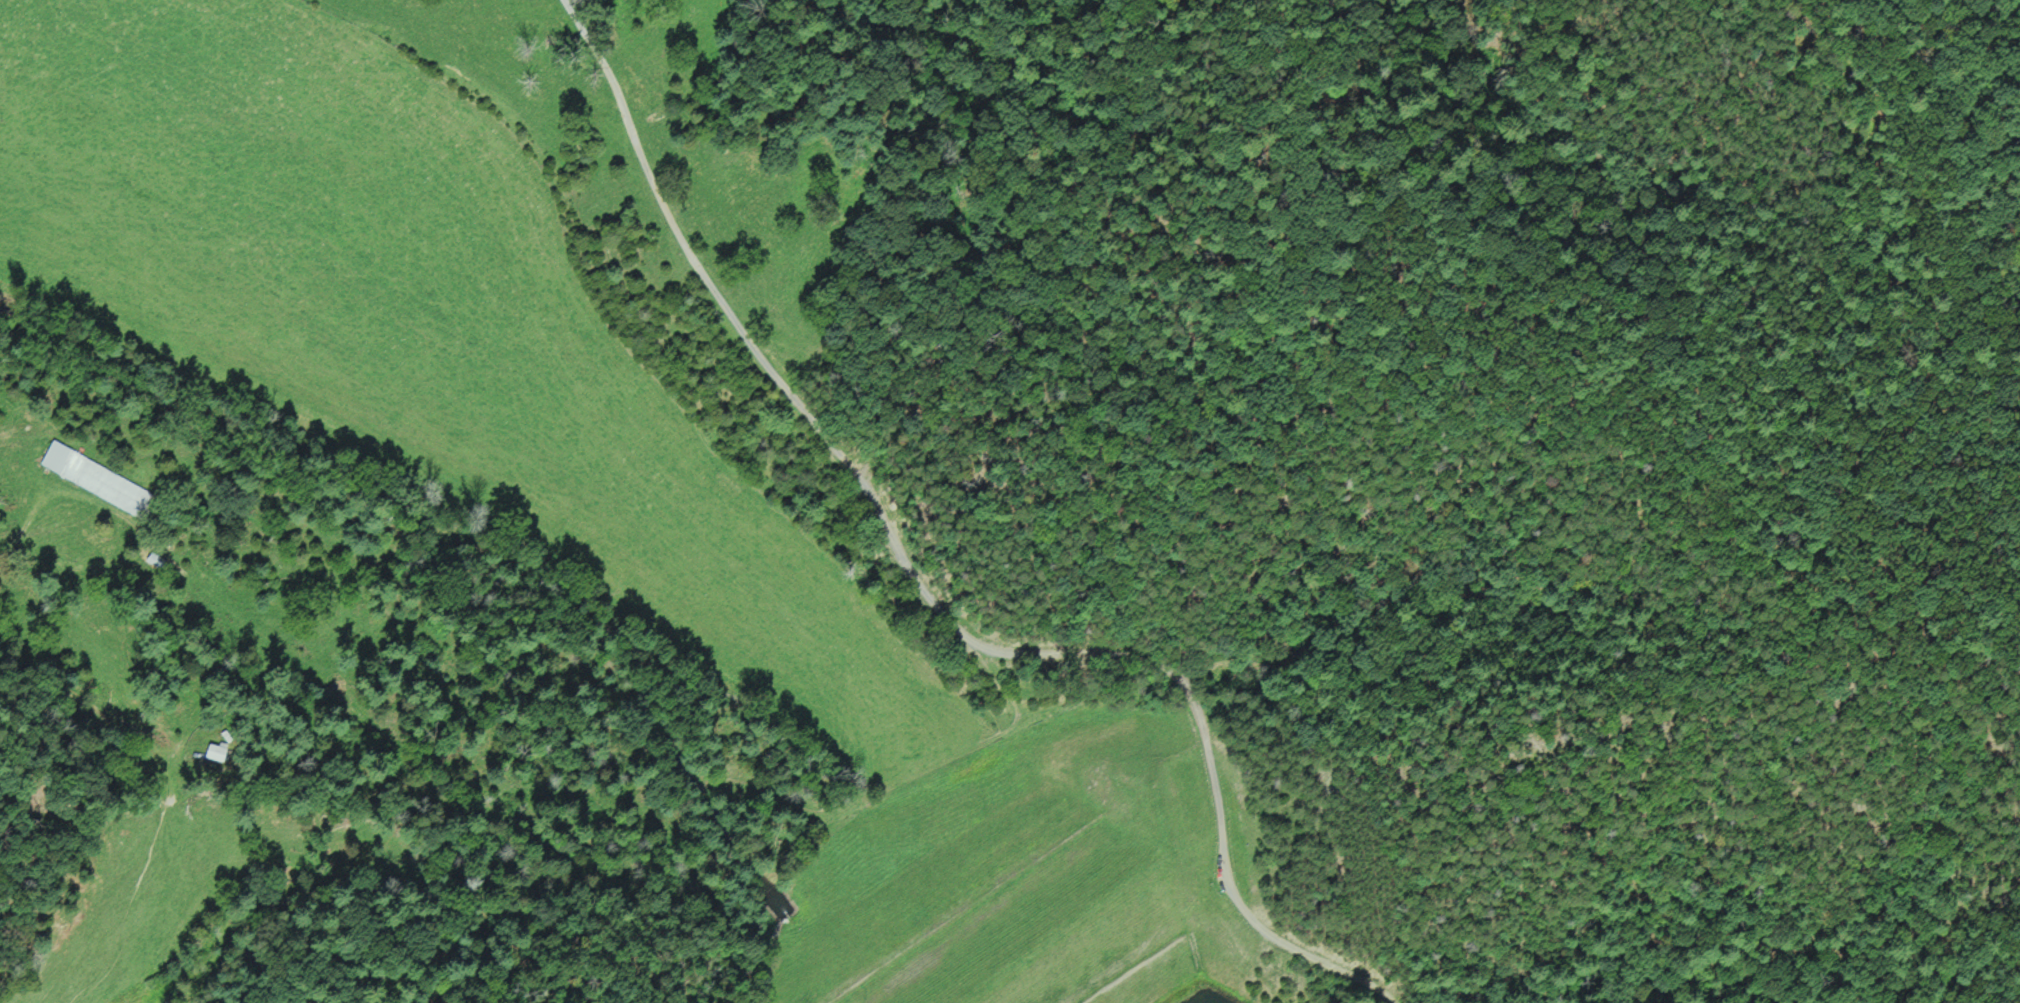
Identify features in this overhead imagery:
building: (102, 482)
road: (927, 597)
building: (217, 753)
dam: (1070, 929)

